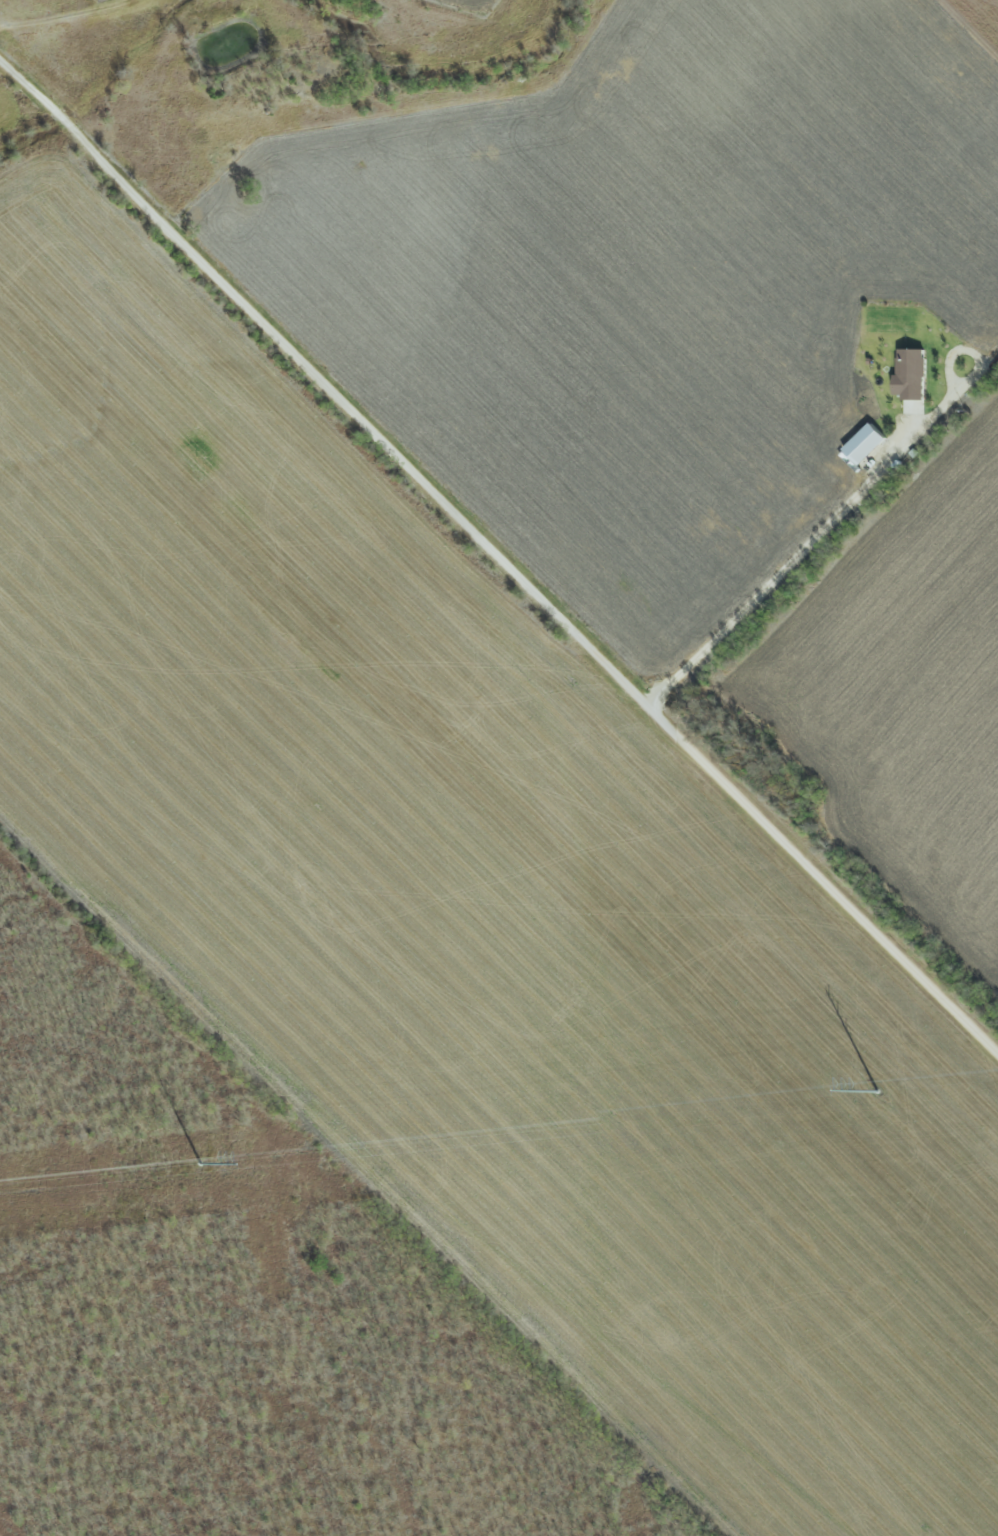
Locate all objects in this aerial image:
road: (28, 84)
road: (66, 120)
building: (869, 443)
road: (780, 570)
road: (535, 594)
power tower: (868, 1090)
power tower: (185, 1161)

